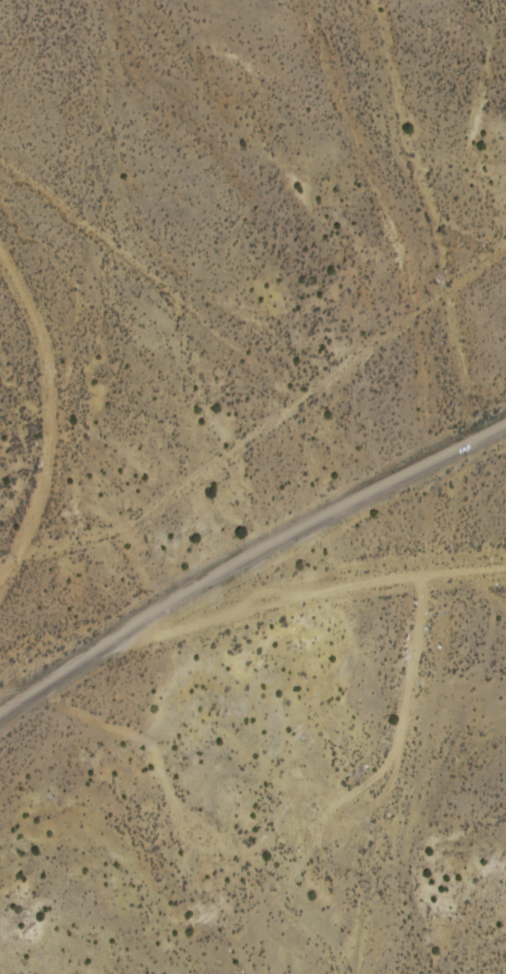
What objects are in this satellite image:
road: (84, 375)
road: (248, 562)
road: (466, 571)

